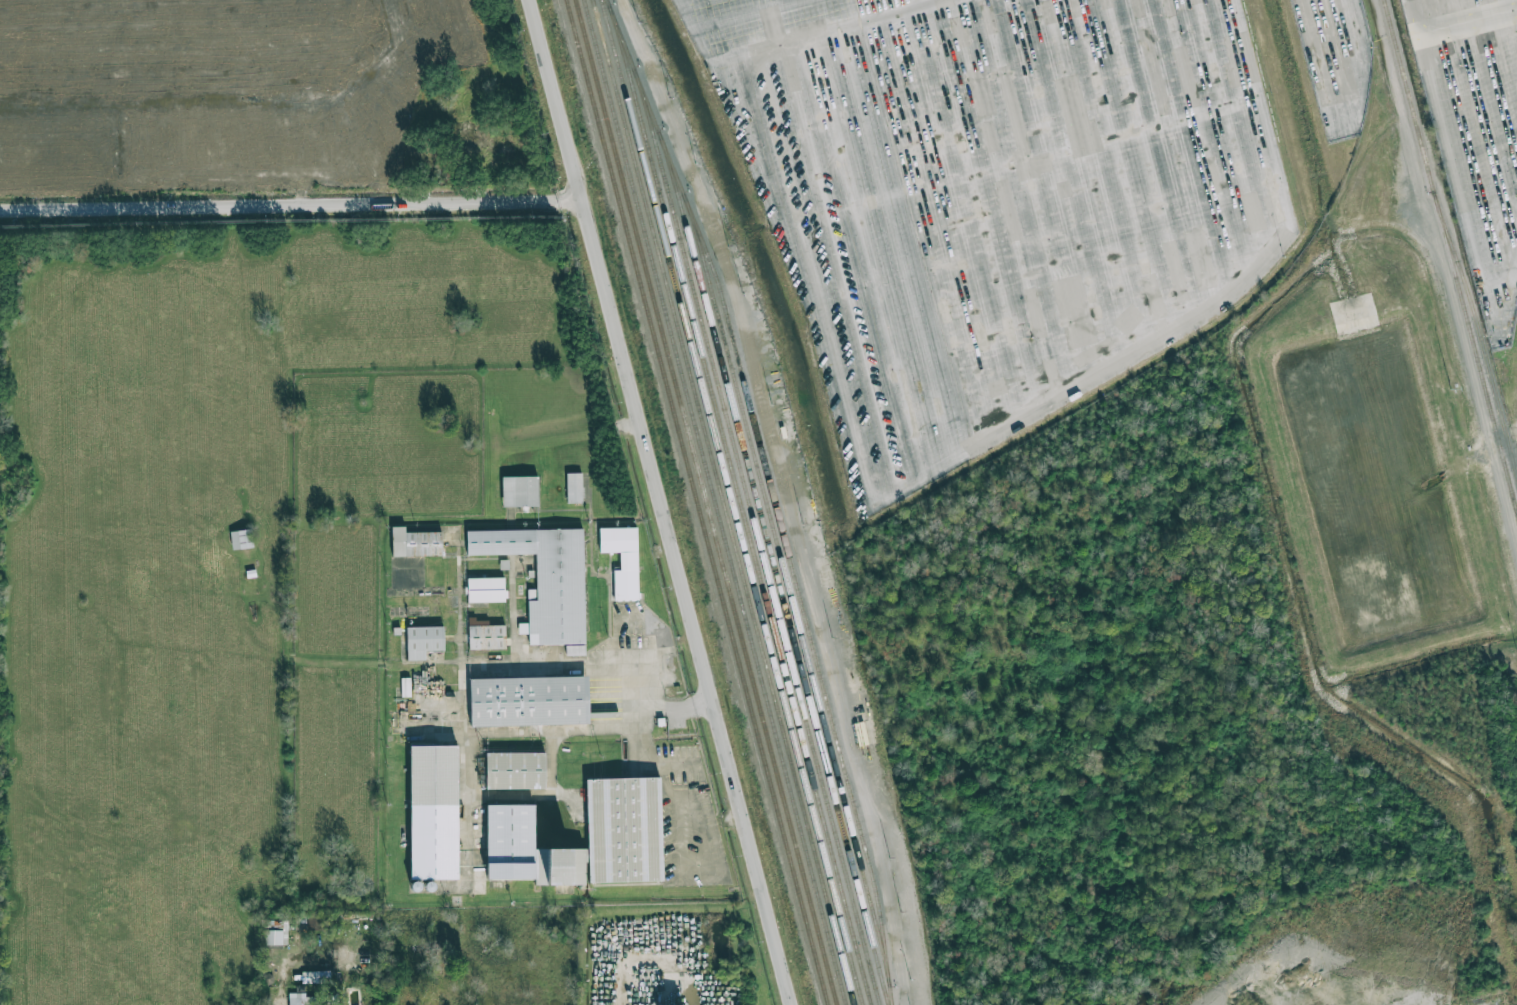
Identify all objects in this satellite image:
road: (1502, 7)
road: (1412, 19)
road: (834, 33)
road: (693, 34)
road: (1324, 115)
road: (1442, 136)
road: (291, 203)
railway: (1450, 255)
road: (1446, 274)
road: (1512, 307)
road: (989, 442)
building: (574, 488)
building: (519, 491)
railway: (774, 495)
road: (798, 495)
railway: (707, 501)
road: (661, 502)
railway: (697, 502)
railway: (715, 502)
railway: (721, 502)
railway: (732, 502)
railway: (743, 510)
building: (241, 539)
railway: (757, 540)
building: (415, 543)
building: (622, 560)
railway: (775, 571)
building: (545, 581)
building: (486, 590)
railway: (789, 594)
building: (485, 635)
building: (423, 641)
road: (641, 692)
building: (528, 701)
building: (515, 771)
building: (433, 813)
building: (624, 831)
building: (526, 852)
building: (273, 937)
building: (316, 977)
building: (302, 999)

